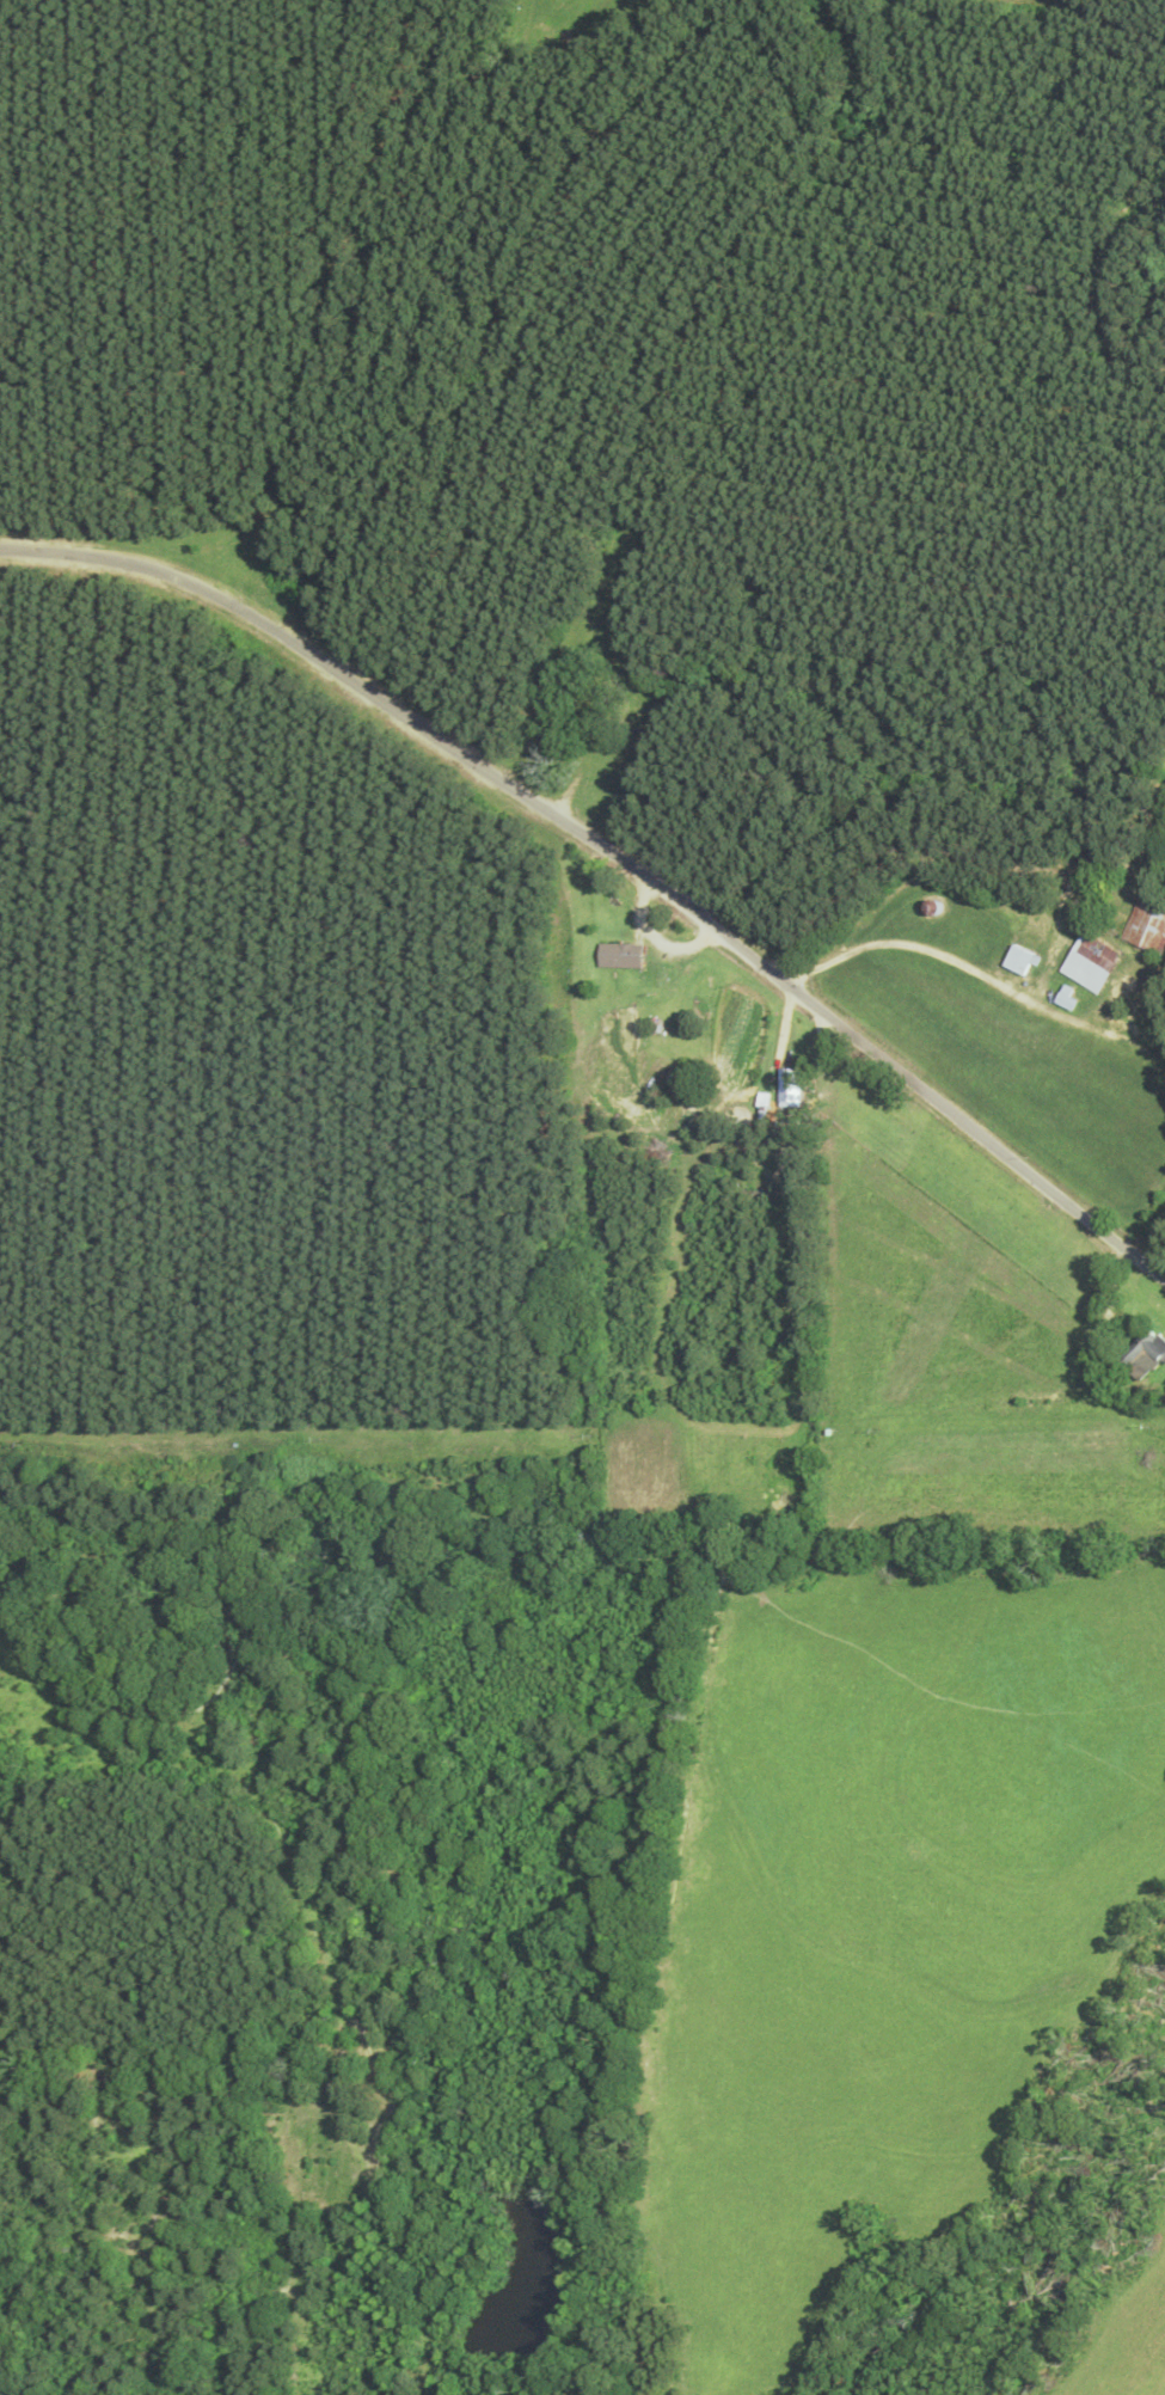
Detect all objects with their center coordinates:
building: (591, 749)
road: (613, 851)
building: (1147, 920)
building: (620, 955)
building: (1018, 958)
building: (1090, 961)
building: (787, 1080)
building: (1143, 1355)

